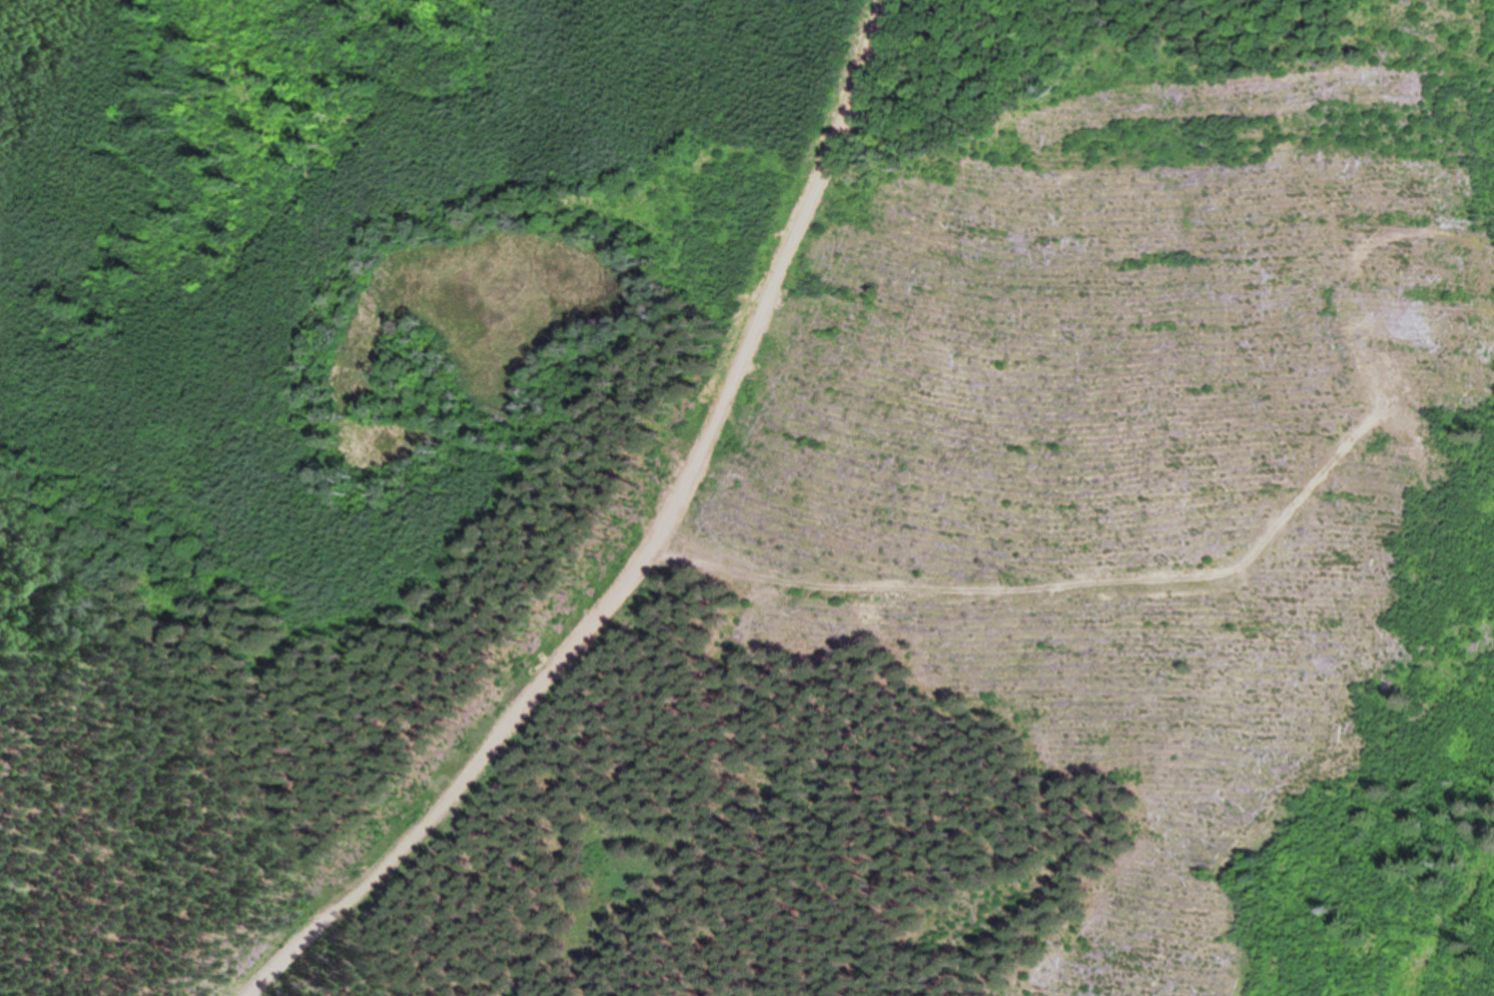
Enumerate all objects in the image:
road: (656, 554)

